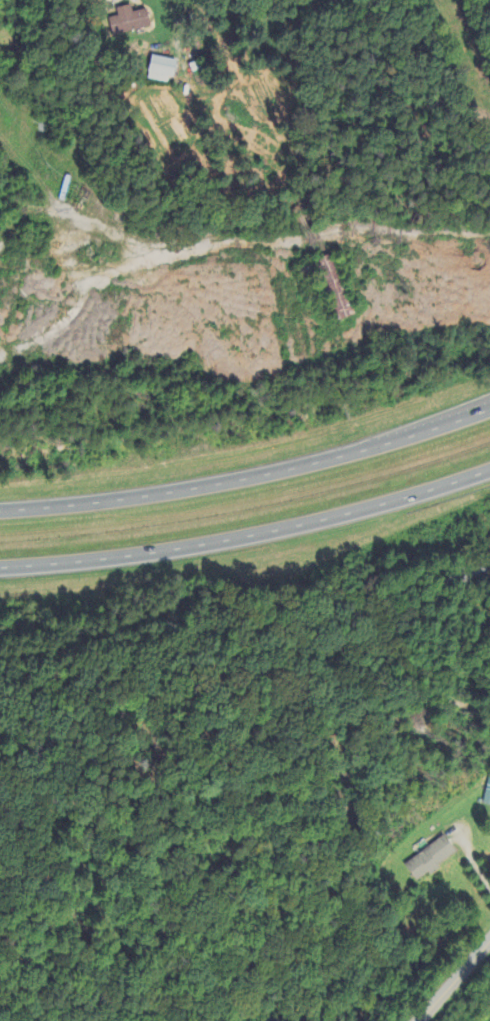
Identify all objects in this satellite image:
building: (130, 22)
road: (176, 23)
building: (162, 71)
road: (278, 241)
road: (248, 472)
road: (248, 535)
building: (487, 798)
building: (431, 860)
road: (453, 977)

